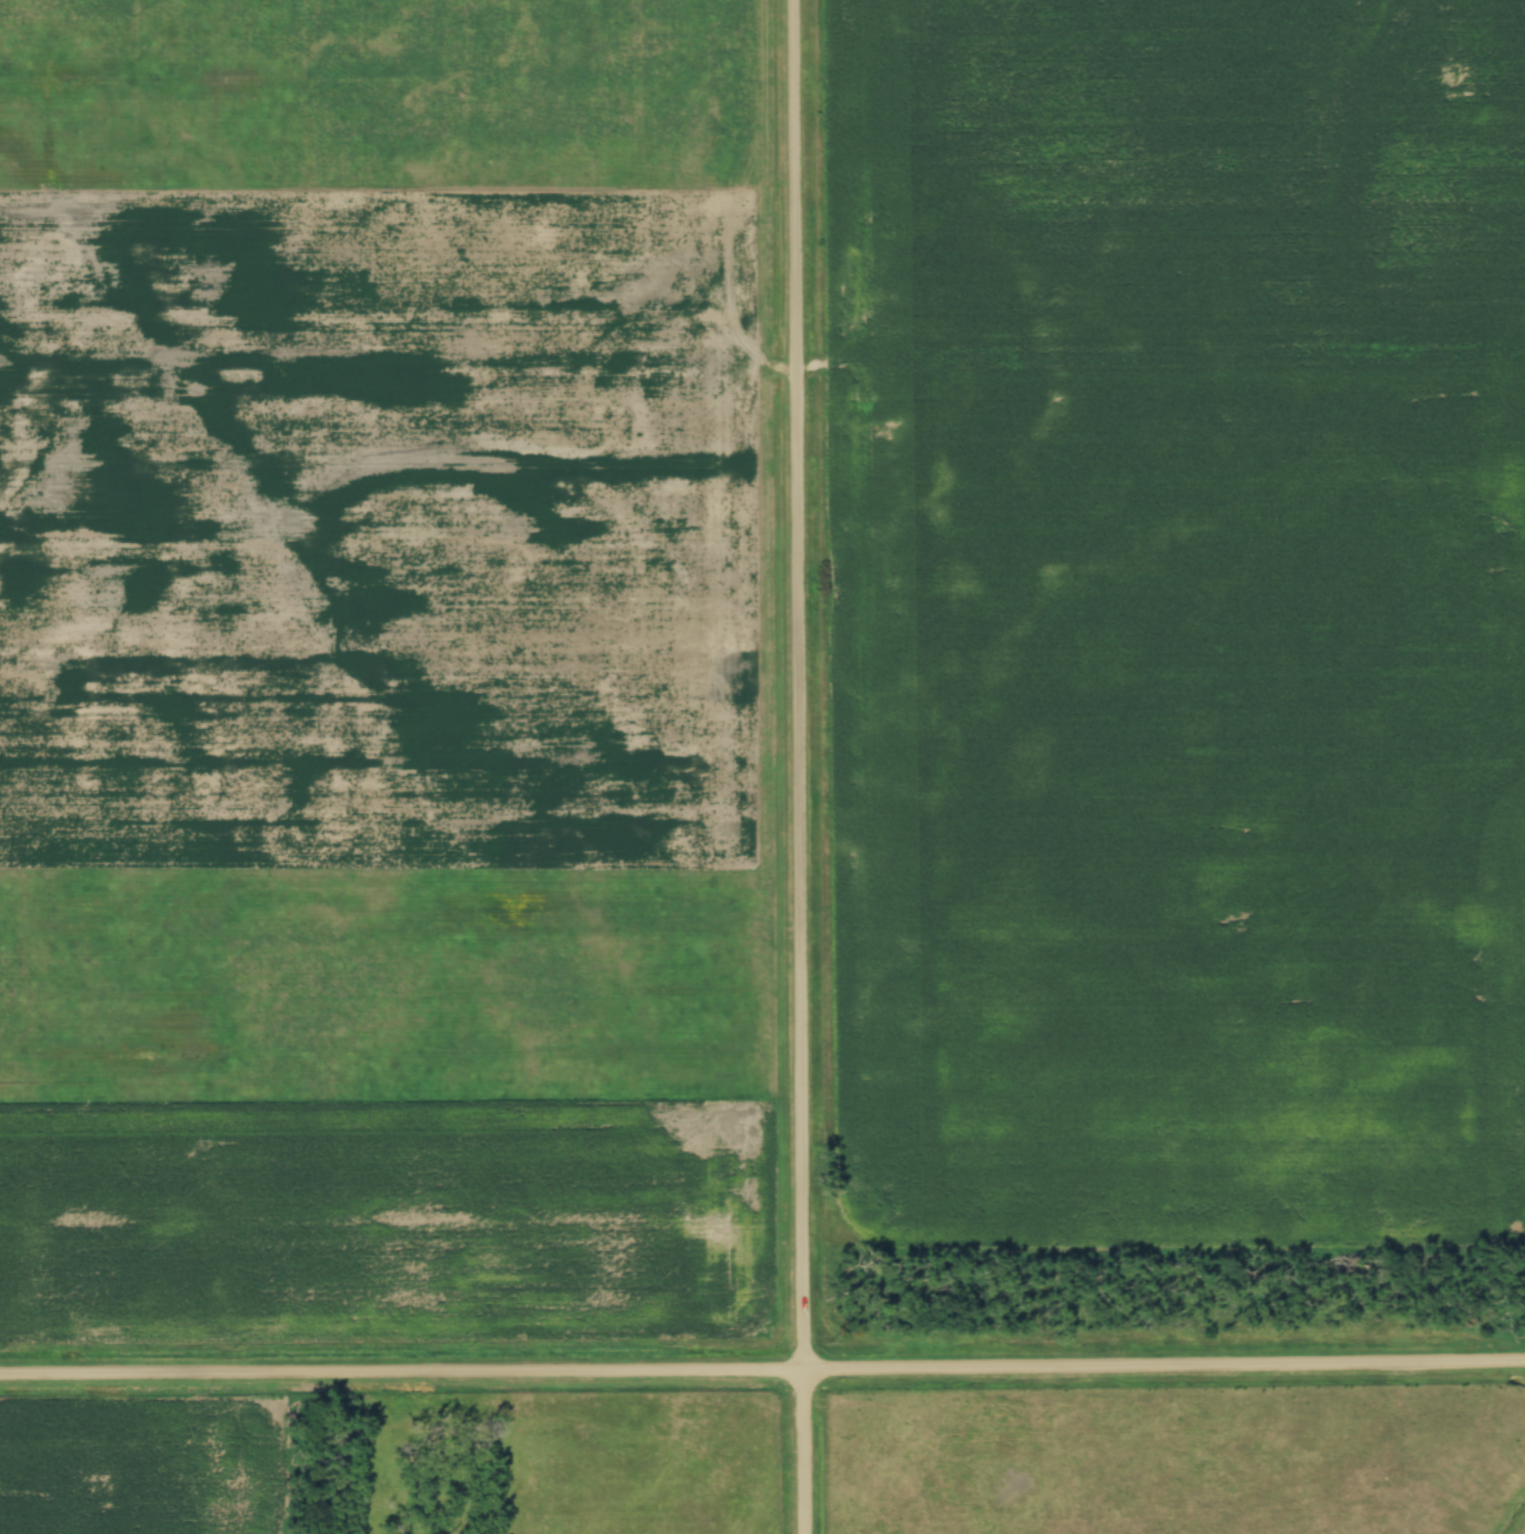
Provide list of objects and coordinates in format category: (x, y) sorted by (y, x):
road: (799, 767)
road: (762, 1368)

